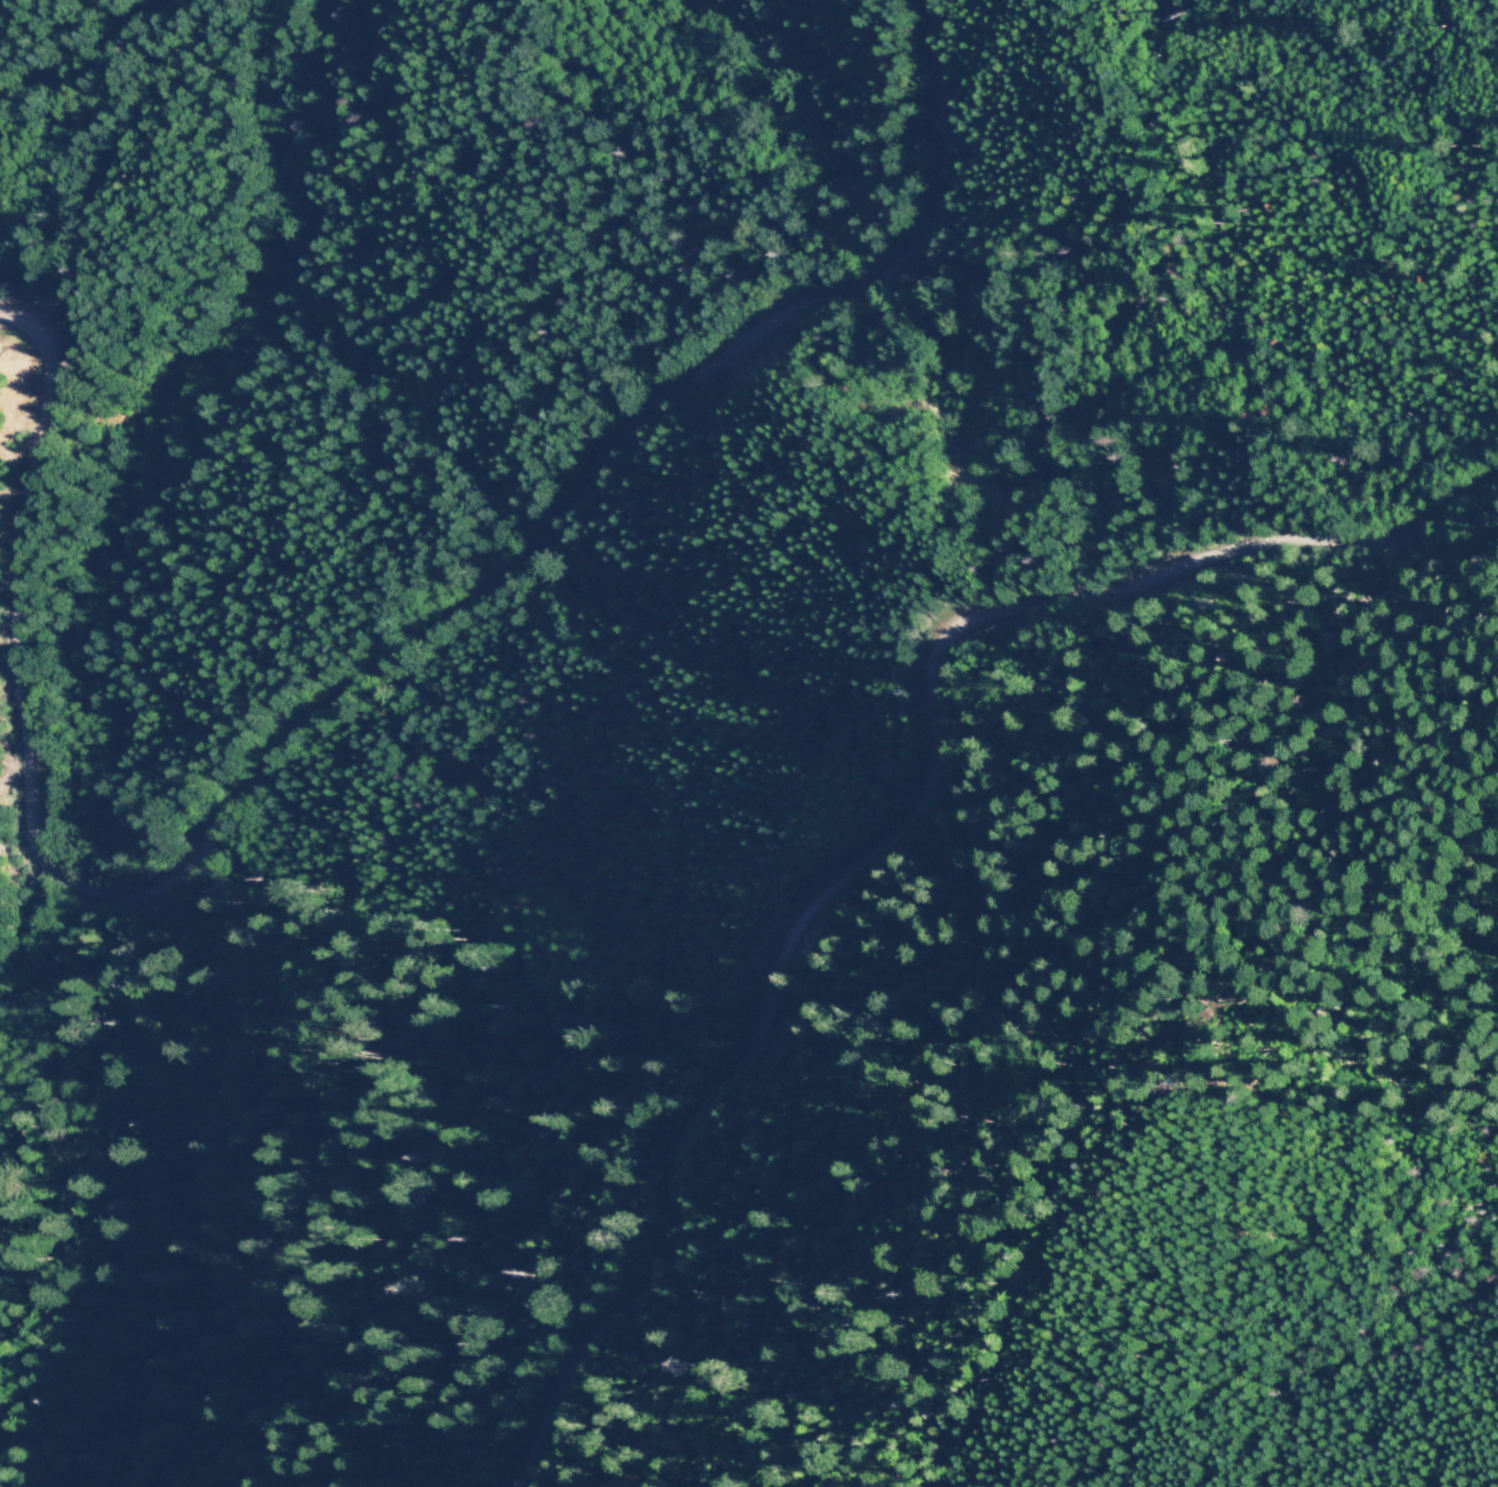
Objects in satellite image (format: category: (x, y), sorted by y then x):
road: (516, 518)
road: (804, 755)
road: (176, 980)

